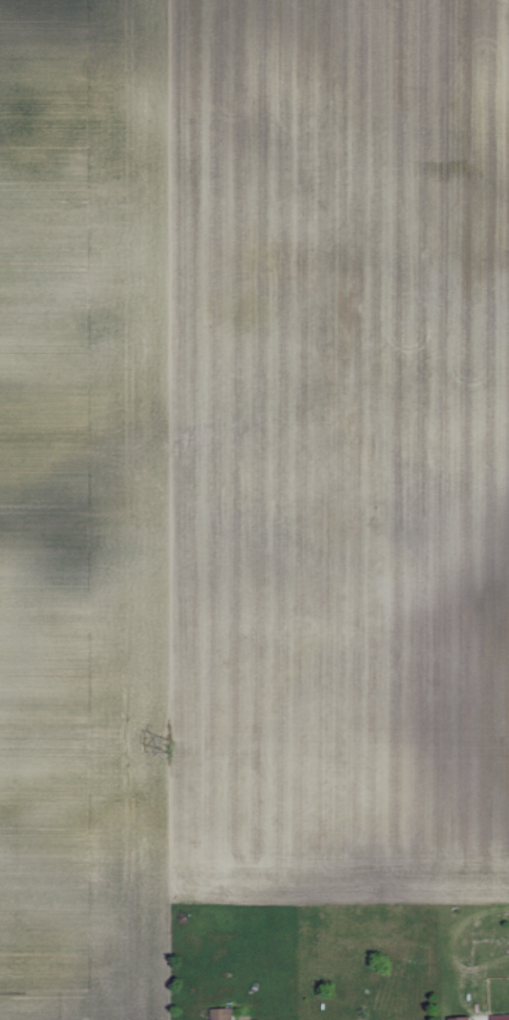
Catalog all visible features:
power tower: (167, 744)
building: (221, 1013)
building: (500, 1017)

